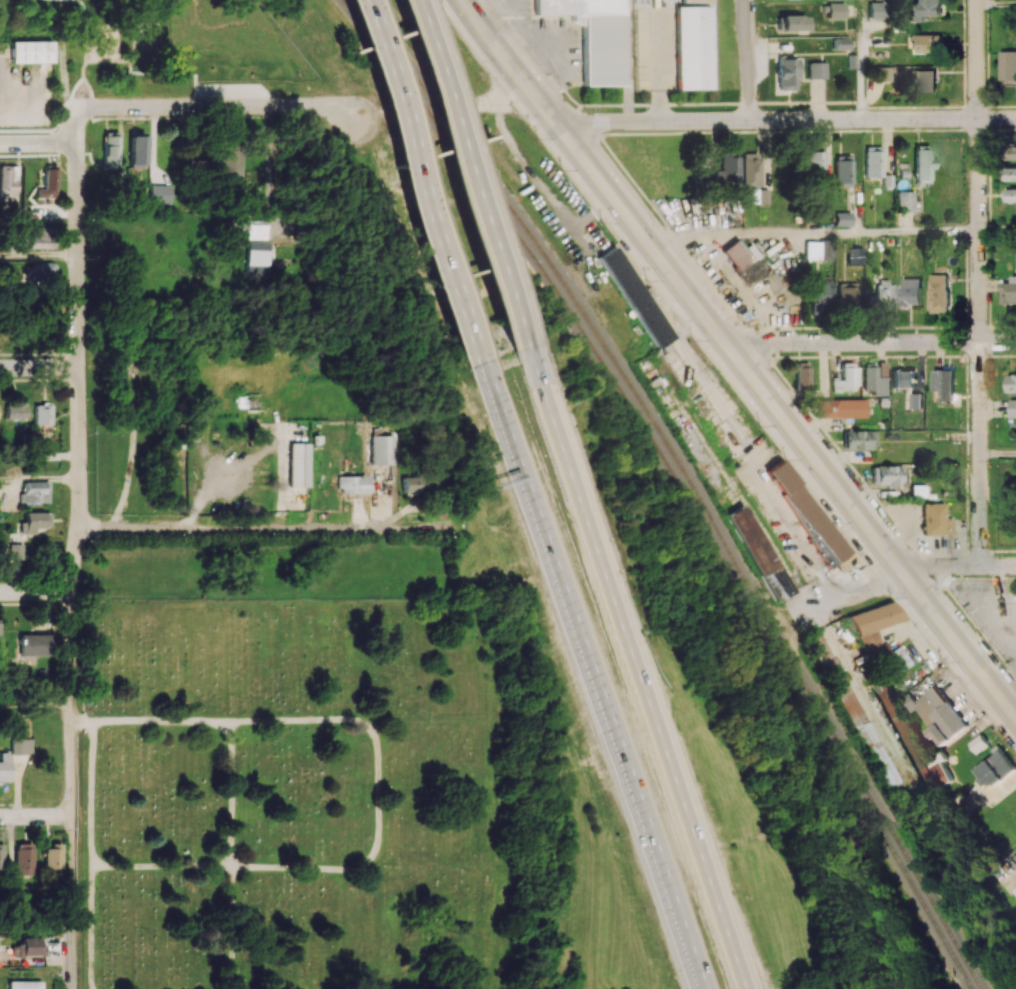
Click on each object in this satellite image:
road: (995, 2)
building: (927, 9)
building: (836, 10)
building: (877, 10)
building: (793, 22)
building: (596, 38)
park: (146, 41)
park: (166, 43)
building: (927, 43)
building: (841, 44)
building: (693, 47)
building: (31, 51)
road: (82, 53)
road: (750, 59)
road: (861, 59)
road: (108, 60)
building: (1007, 65)
building: (817, 70)
building: (785, 74)
building: (880, 74)
building: (924, 79)
road: (501, 102)
road: (221, 105)
road: (785, 119)
road: (37, 142)
building: (110, 148)
building: (137, 151)
building: (1012, 152)
road: (270, 153)
building: (873, 161)
building: (815, 162)
building: (922, 163)
building: (230, 164)
building: (729, 167)
building: (751, 169)
building: (843, 170)
building: (1012, 174)
road: (919, 175)
building: (8, 180)
building: (49, 184)
road: (471, 184)
road: (424, 188)
building: (1010, 195)
building: (759, 196)
building: (905, 201)
building: (842, 218)
road: (996, 230)
road: (810, 232)
building: (41, 237)
building: (254, 245)
building: (818, 250)
road: (39, 256)
building: (854, 256)
building: (744, 262)
road: (977, 283)
building: (910, 291)
building: (1009, 291)
building: (939, 292)
building: (884, 293)
building: (818, 294)
building: (847, 294)
building: (635, 296)
road: (875, 342)
road: (739, 359)
road: (39, 366)
building: (802, 375)
building: (903, 378)
building: (847, 379)
building: (873, 381)
building: (944, 383)
building: (1011, 383)
building: (915, 400)
building: (841, 408)
building: (1013, 408)
building: (15, 411)
building: (42, 414)
building: (859, 439)
building: (382, 449)
road: (997, 453)
building: (297, 464)
building: (886, 475)
railway: (680, 479)
railway: (691, 479)
road: (575, 480)
road: (40, 481)
building: (412, 481)
building: (352, 484)
building: (35, 492)
building: (806, 512)
building: (935, 520)
road: (236, 528)
road: (76, 548)
building: (759, 553)
building: (16, 557)
road: (960, 566)
road: (37, 591)
road: (850, 595)
building: (874, 627)
building: (0, 628)
building: (35, 644)
road: (589, 658)
building: (902, 659)
road: (1005, 691)
road: (34, 705)
building: (935, 714)
building: (912, 743)
building: (978, 743)
building: (22, 746)
building: (5, 767)
building: (994, 768)
road: (379, 781)
road: (679, 790)
road: (35, 815)
building: (2, 855)
road: (226, 855)
building: (24, 856)
building: (53, 856)
road: (91, 856)
building: (1015, 889)
road: (36, 928)
building: (30, 946)
road: (691, 964)
building: (24, 984)

